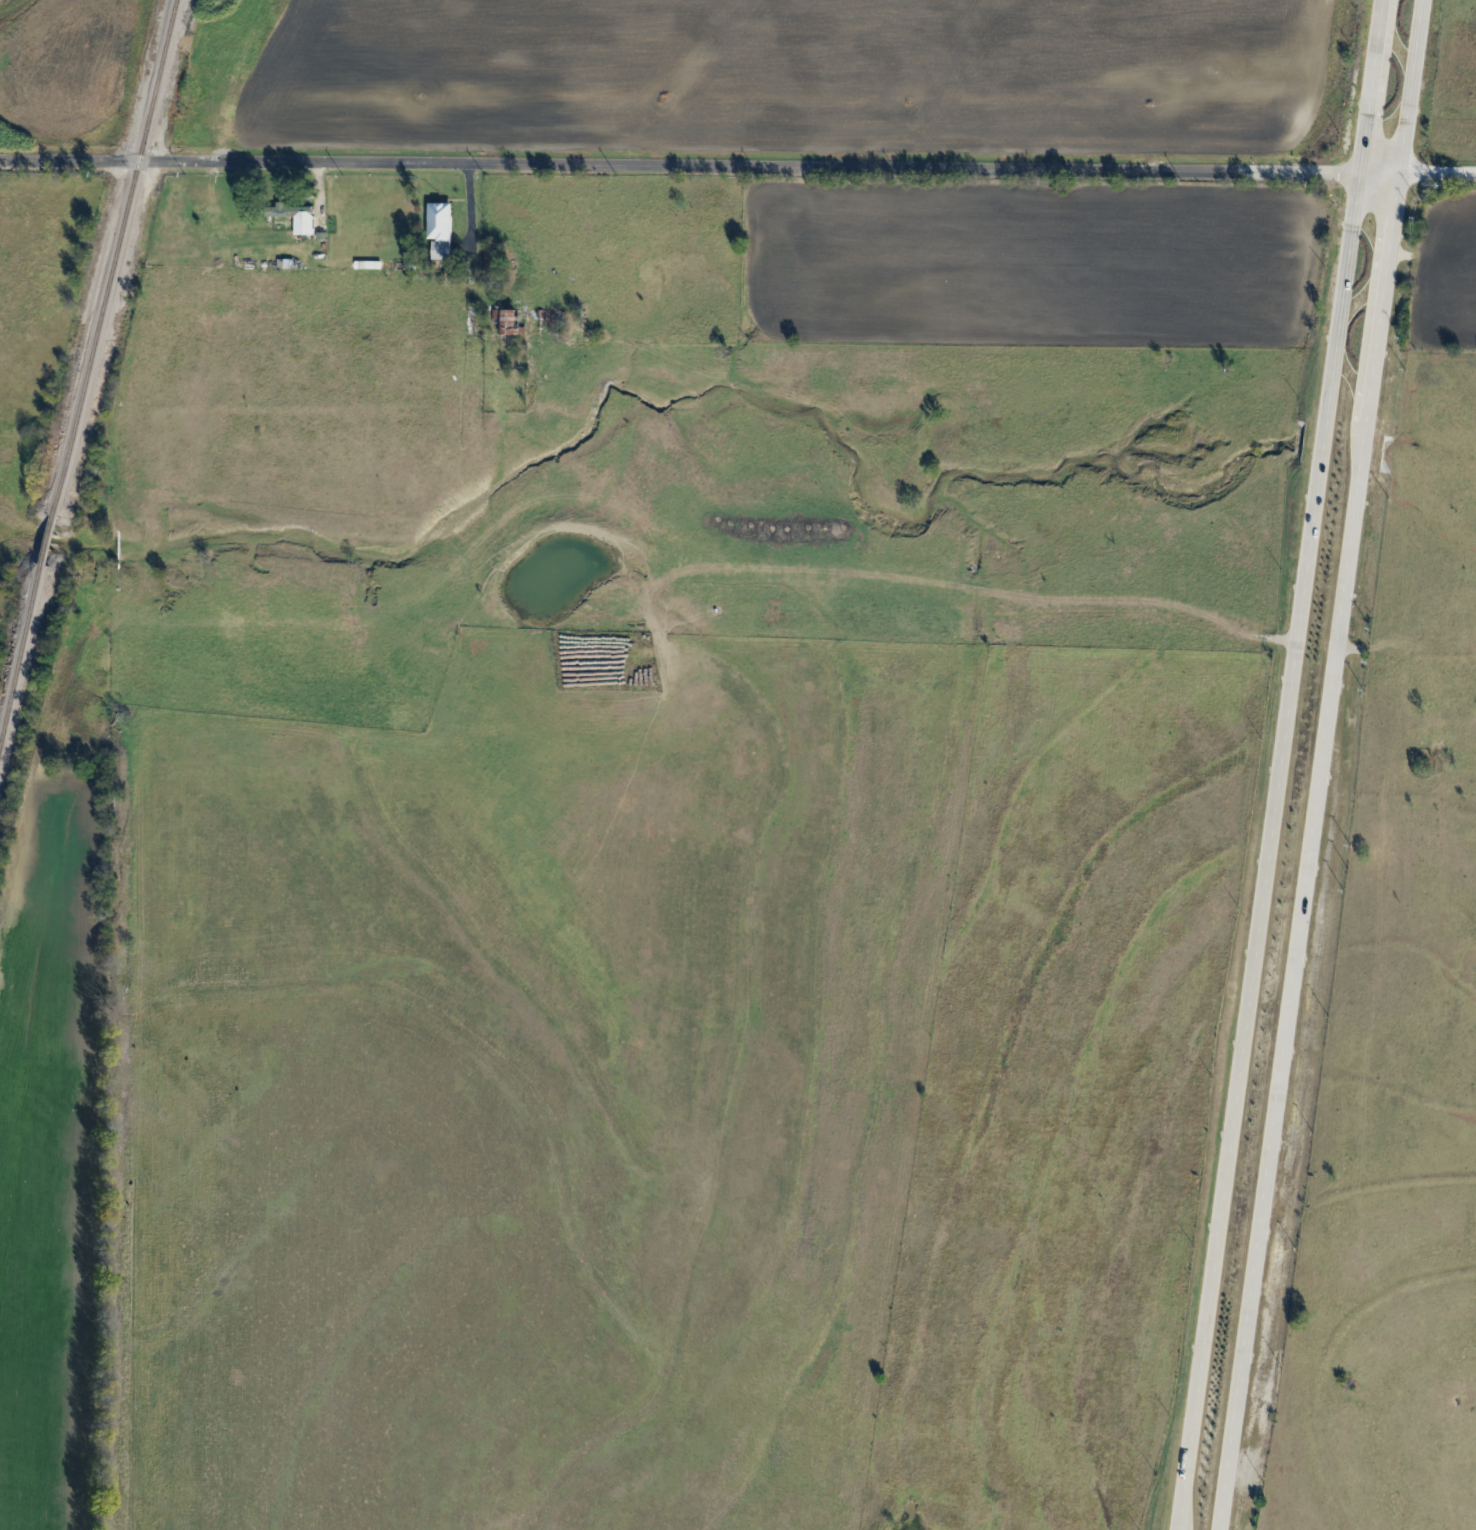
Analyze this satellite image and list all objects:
road: (697, 170)
road: (1435, 178)
building: (291, 213)
building: (438, 230)
building: (487, 255)
railway: (116, 257)
building: (474, 321)
building: (508, 321)
building: (551, 321)
railway: (49, 540)
railway: (22, 657)
road: (1275, 765)
road: (1316, 765)

